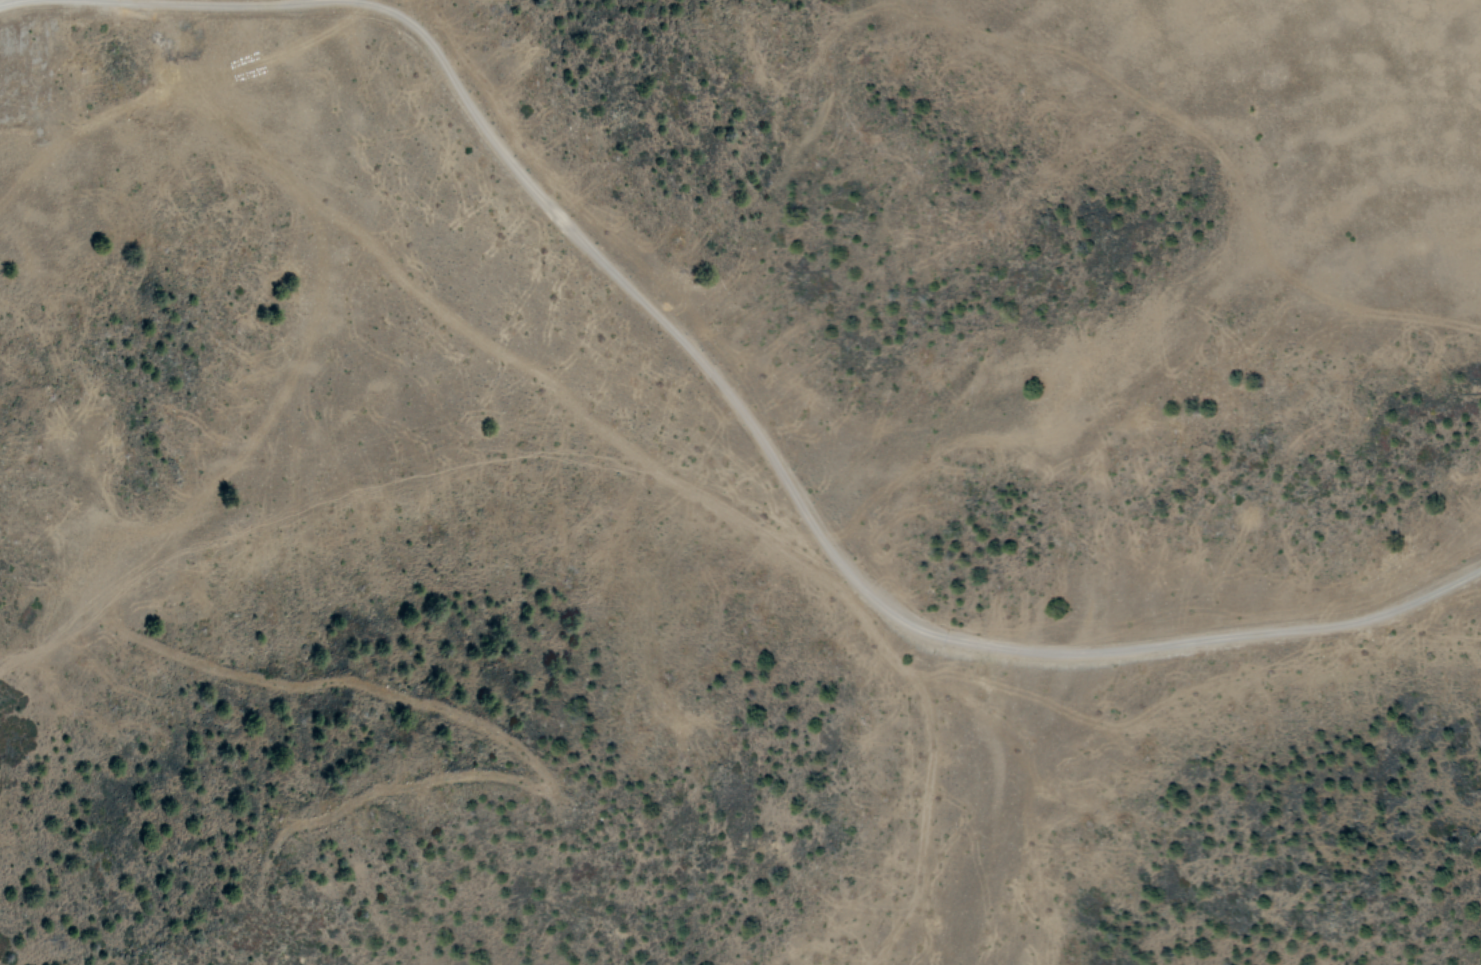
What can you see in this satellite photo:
road: (2, 0)
road: (180, 1)
road: (384, 5)
road: (833, 544)

